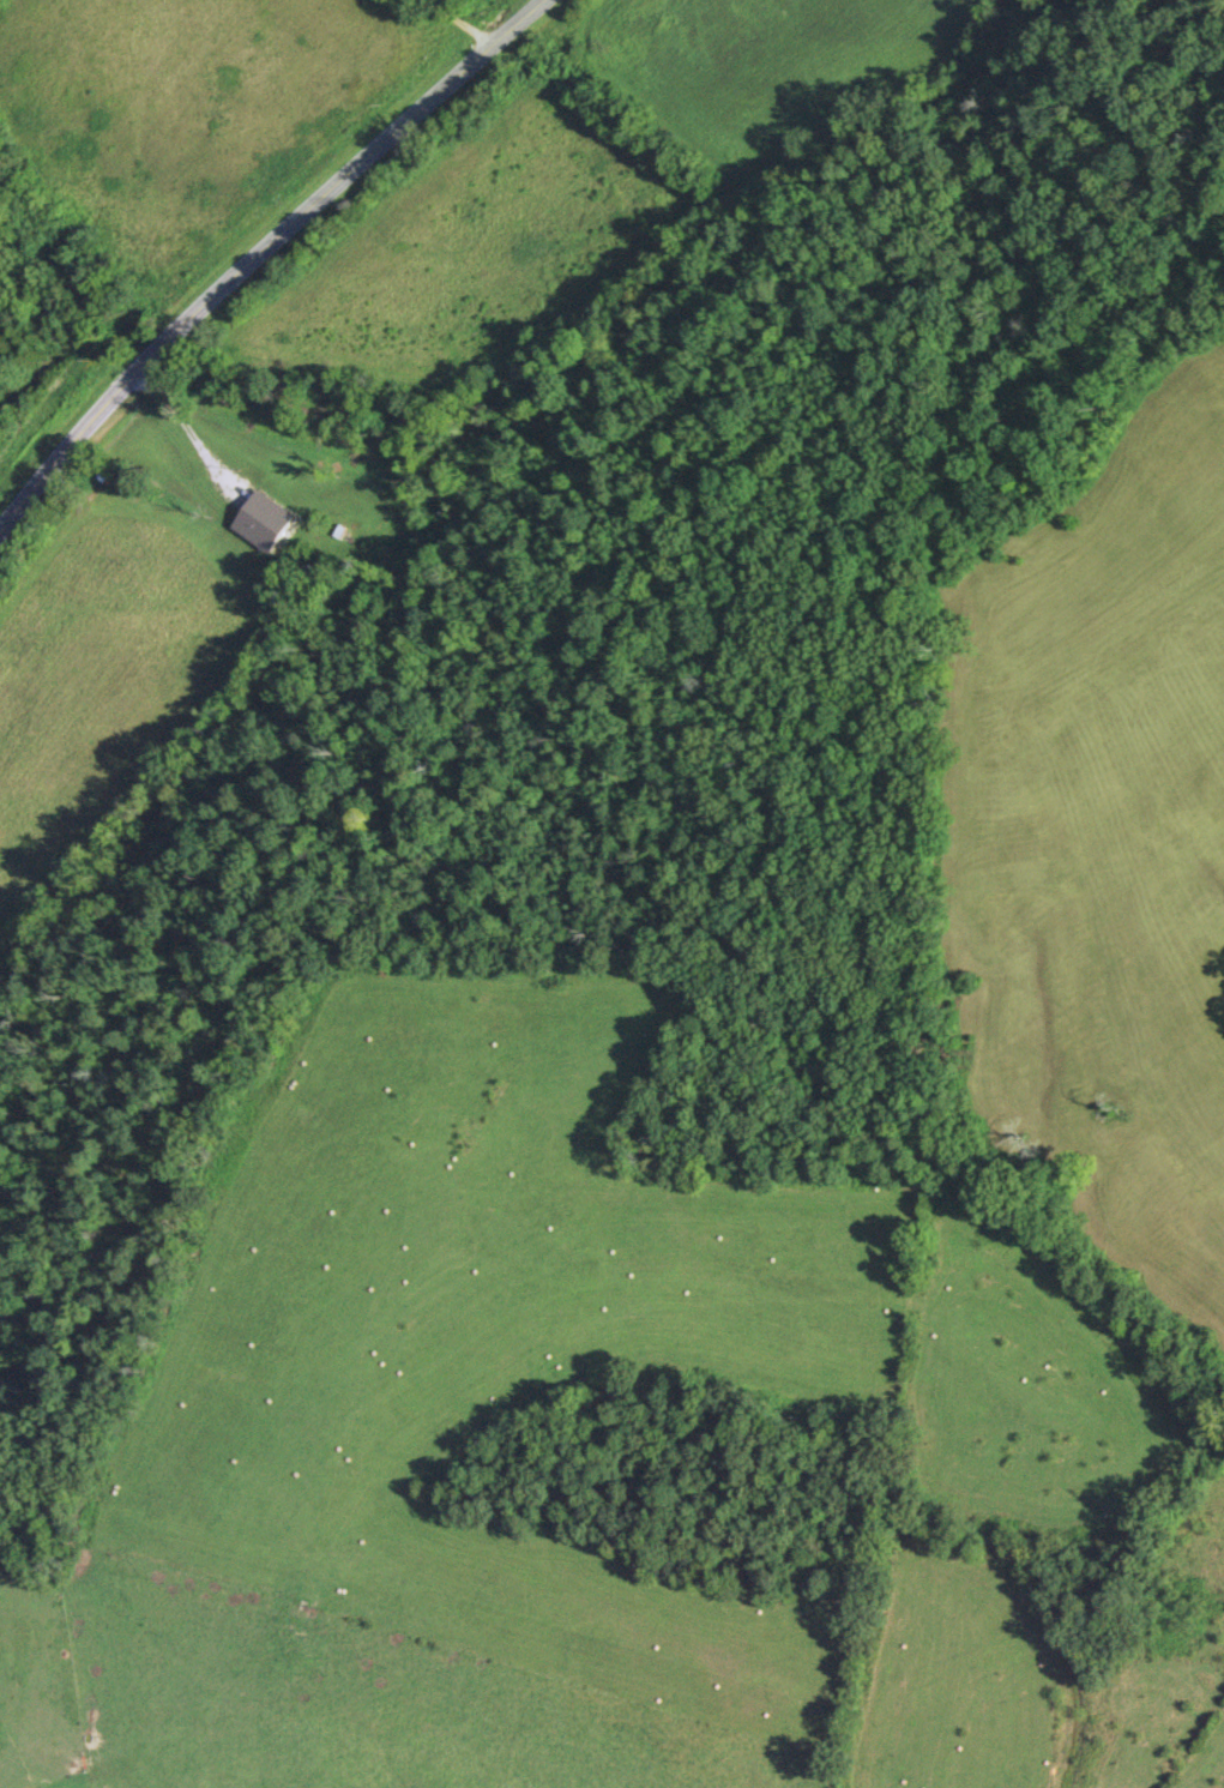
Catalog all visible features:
road: (458, 25)
road: (263, 253)
building: (159, 454)
building: (306, 492)

